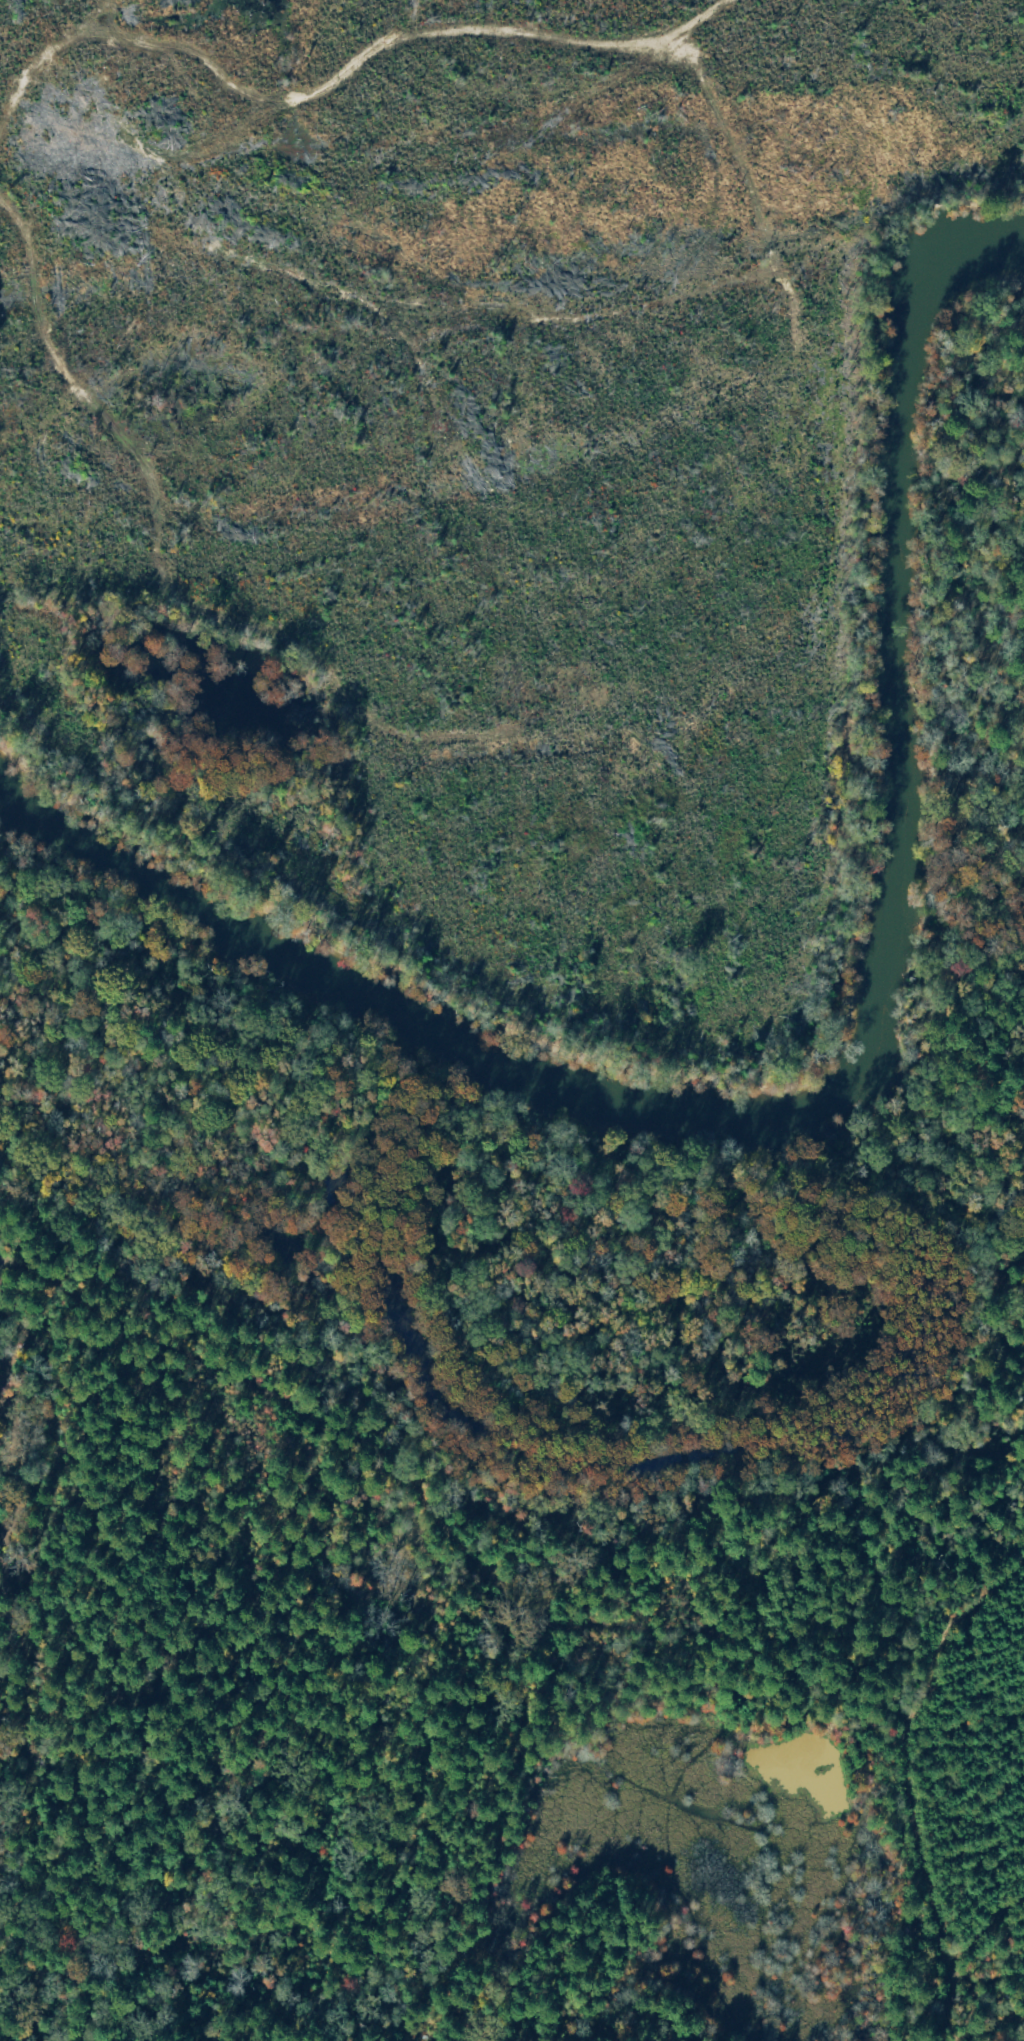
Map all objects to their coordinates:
river: (843, 1086)

